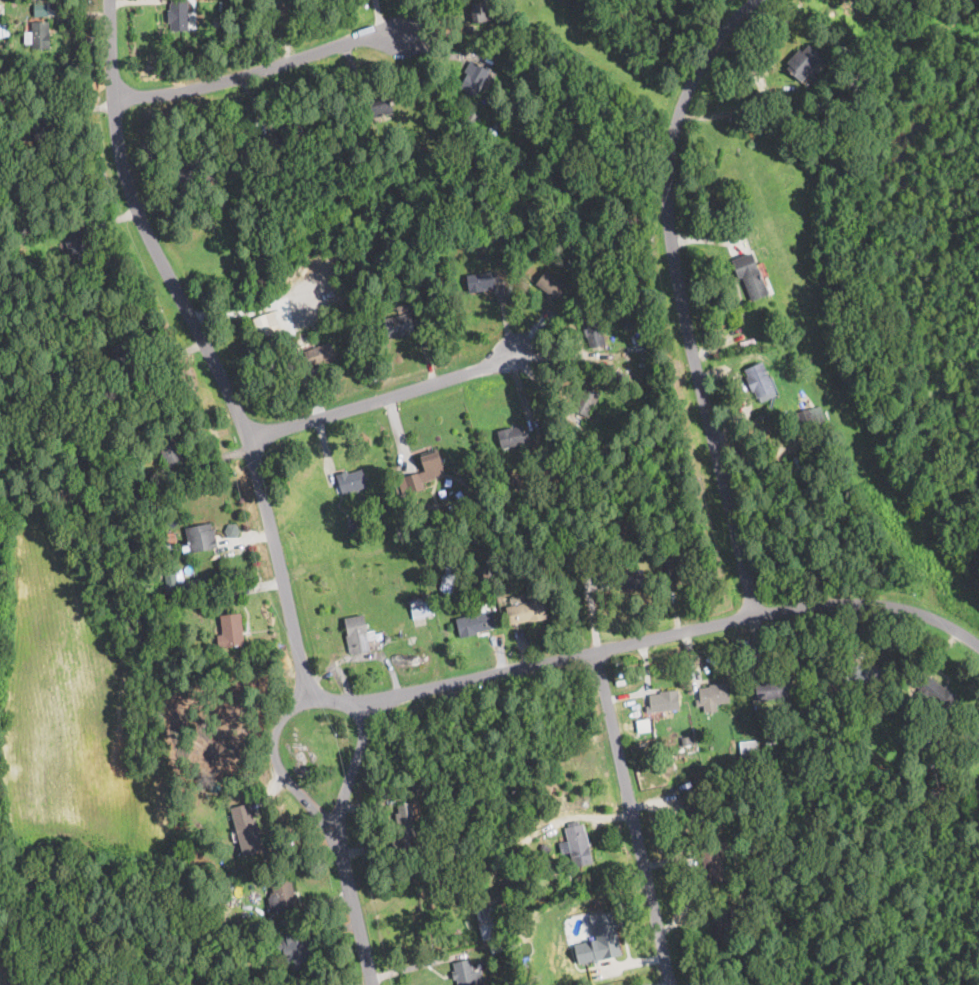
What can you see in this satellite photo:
building: (40, 7)
building: (479, 10)
building: (178, 15)
road: (284, 29)
building: (2, 31)
building: (41, 34)
building: (804, 62)
road: (263, 66)
building: (475, 78)
building: (379, 104)
building: (471, 115)
building: (48, 127)
building: (283, 136)
building: (374, 145)
building: (191, 170)
building: (214, 203)
building: (721, 213)
building: (76, 245)
building: (482, 245)
building: (533, 248)
building: (750, 275)
building: (481, 281)
building: (551, 285)
road: (686, 297)
building: (348, 301)
building: (629, 315)
building: (267, 324)
building: (399, 325)
building: (594, 332)
road: (206, 349)
building: (319, 353)
building: (125, 355)
building: (758, 379)
road: (382, 396)
building: (585, 400)
building: (805, 418)
building: (512, 436)
building: (171, 453)
building: (559, 454)
building: (568, 462)
building: (423, 471)
building: (351, 480)
building: (476, 490)
building: (430, 516)
building: (352, 525)
building: (232, 529)
building: (201, 537)
building: (681, 567)
building: (542, 568)
building: (471, 571)
building: (485, 574)
building: (675, 578)
building: (630, 579)
building: (447, 581)
building: (531, 582)
building: (180, 586)
building: (569, 587)
building: (171, 592)
building: (422, 605)
road: (870, 608)
building: (527, 611)
building: (176, 616)
building: (476, 622)
building: (230, 630)
building: (358, 634)
building: (387, 636)
road: (552, 658)
building: (865, 673)
building: (775, 688)
building: (938, 693)
building: (713, 694)
building: (663, 701)
building: (643, 724)
building: (975, 726)
building: (915, 727)
building: (702, 733)
building: (686, 739)
building: (771, 745)
building: (748, 748)
road: (274, 749)
road: (620, 752)
road: (351, 771)
building: (694, 782)
building: (946, 788)
building: (696, 806)
building: (246, 828)
building: (404, 828)
building: (578, 845)
building: (545, 849)
building: (712, 865)
building: (212, 895)
building: (282, 895)
road: (353, 908)
building: (491, 921)
building: (236, 928)
building: (723, 929)
building: (600, 938)
building: (297, 948)
building: (496, 948)
building: (466, 973)
building: (288, 981)
building: (513, 983)
building: (607, 984)

